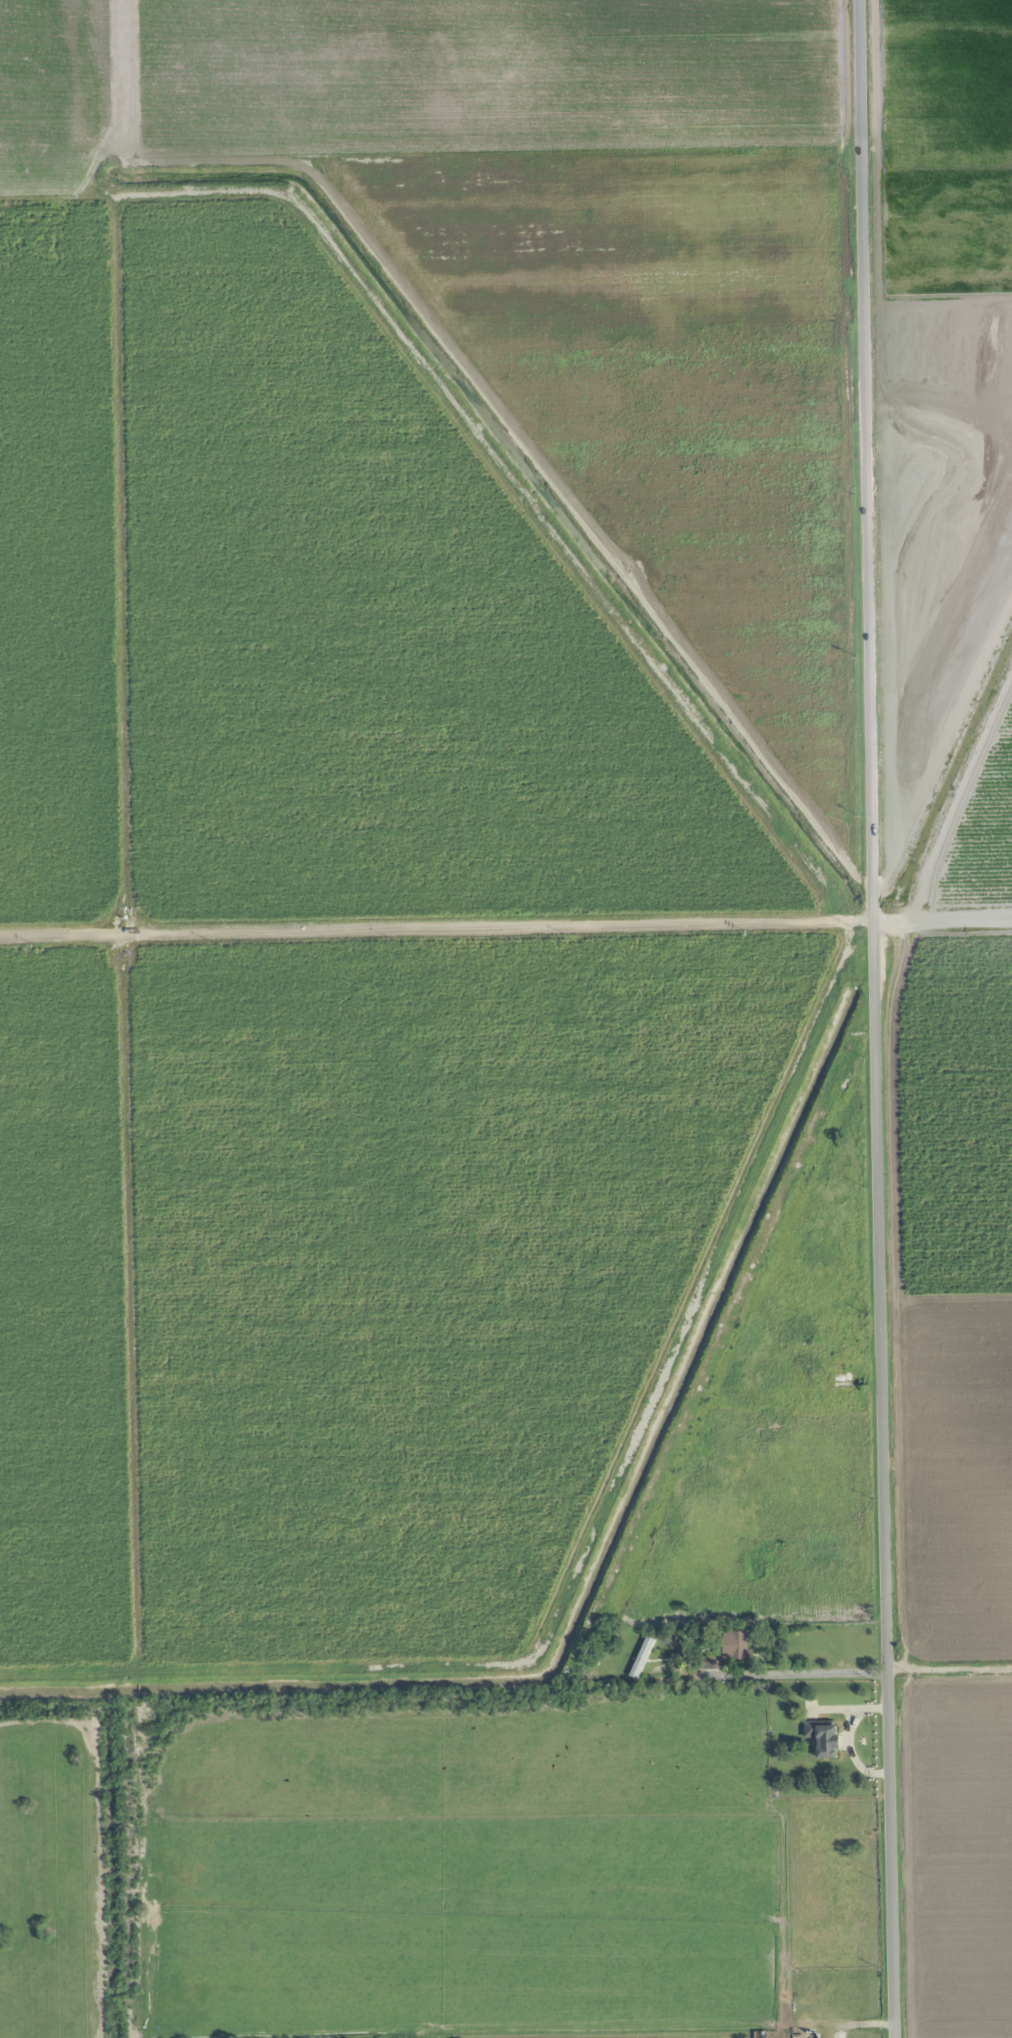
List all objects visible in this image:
road: (505, 929)
road: (881, 1018)
railway: (724, 1358)
building: (735, 1644)
road: (952, 1649)
building: (641, 1657)
building: (707, 1661)
building: (823, 1737)
road: (595, 1794)
building: (799, 2035)

